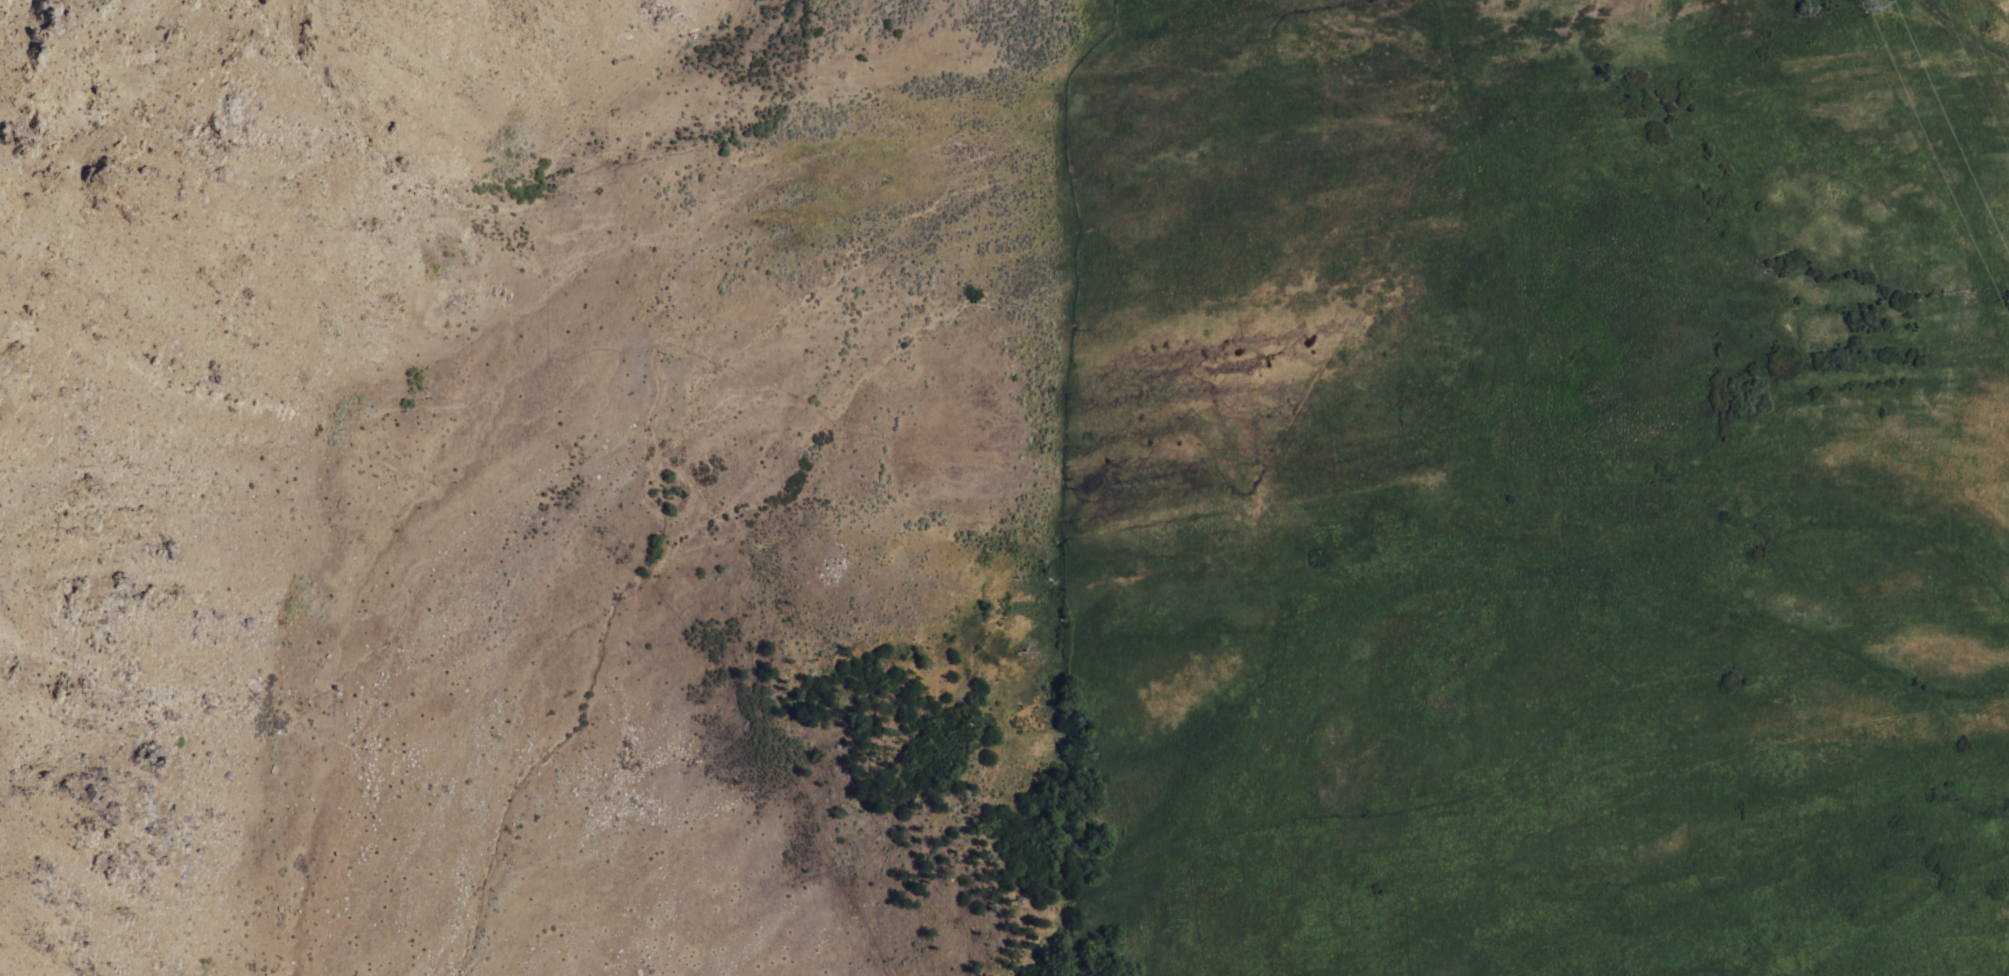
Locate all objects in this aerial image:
power tower: (1869, 2)

